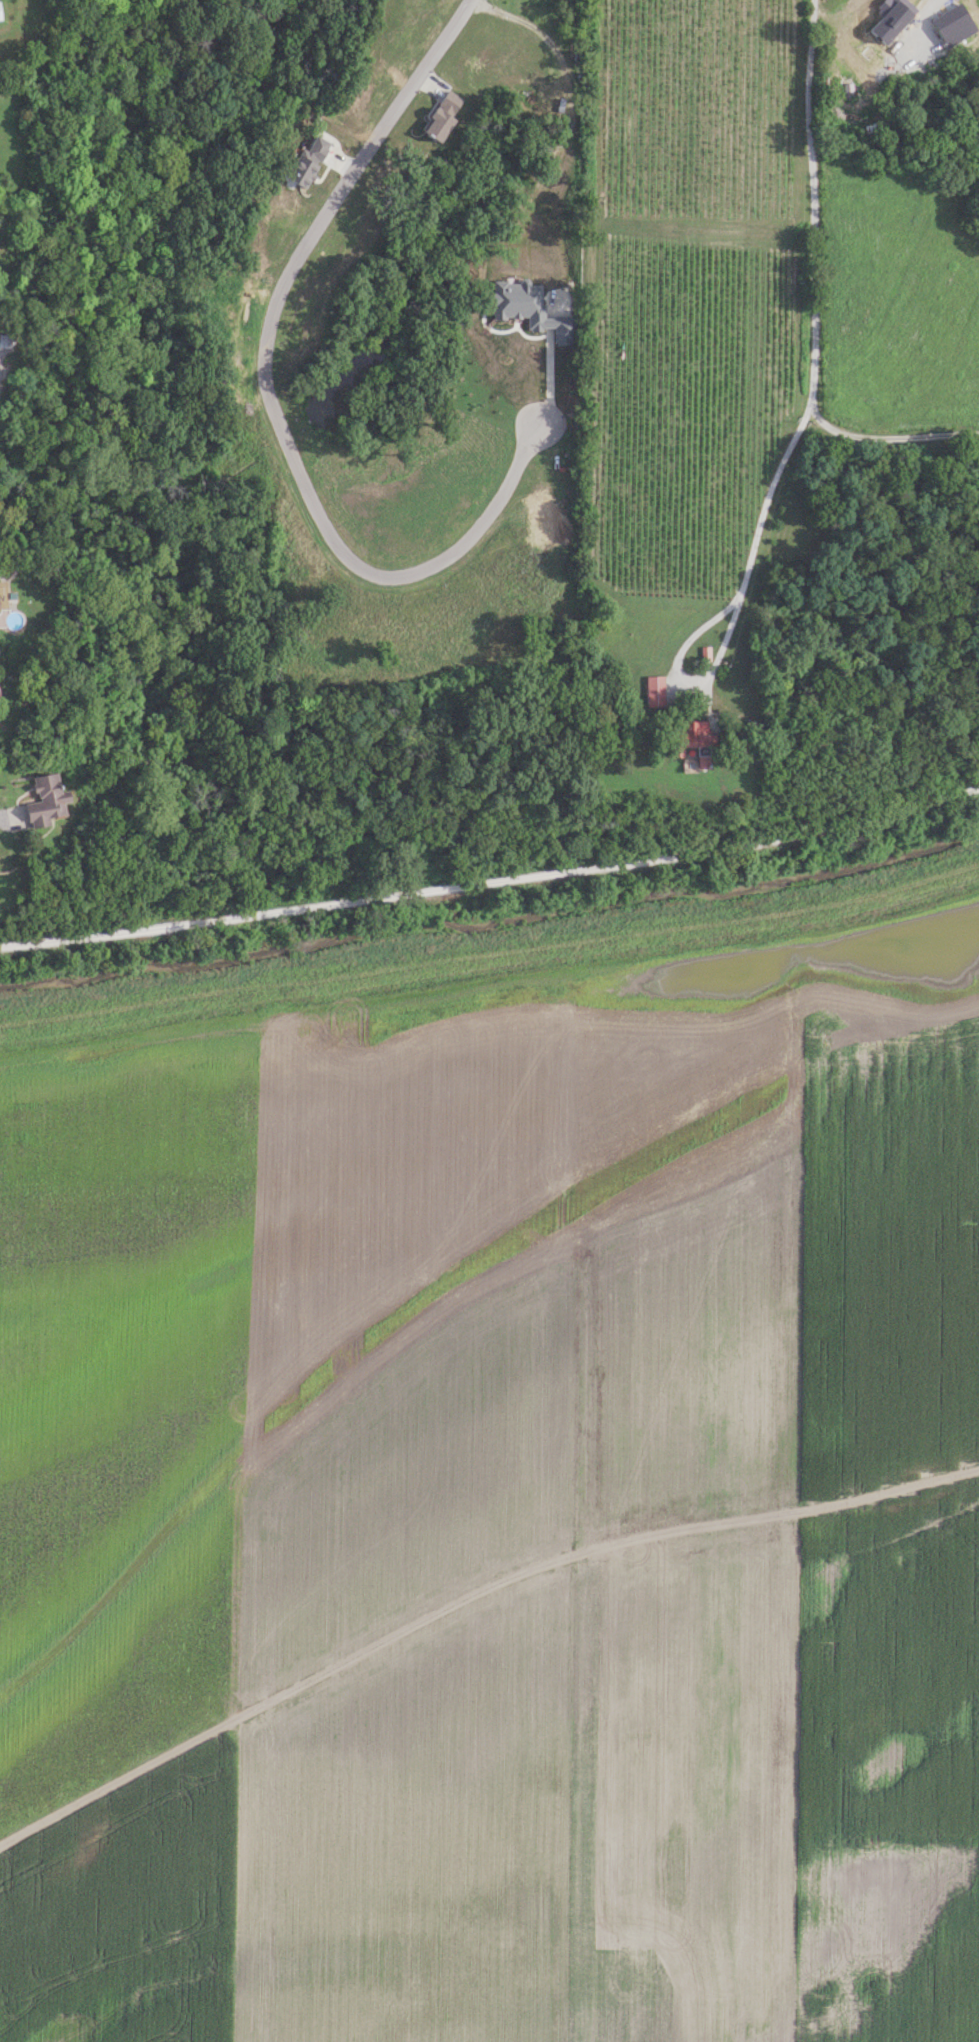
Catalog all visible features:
road: (934, 1)
road: (810, 203)
road: (266, 398)
road: (889, 436)
road: (734, 605)
building: (654, 691)
building: (690, 740)
building: (43, 801)
road: (11, 817)
road: (492, 881)
road: (467, 1594)

